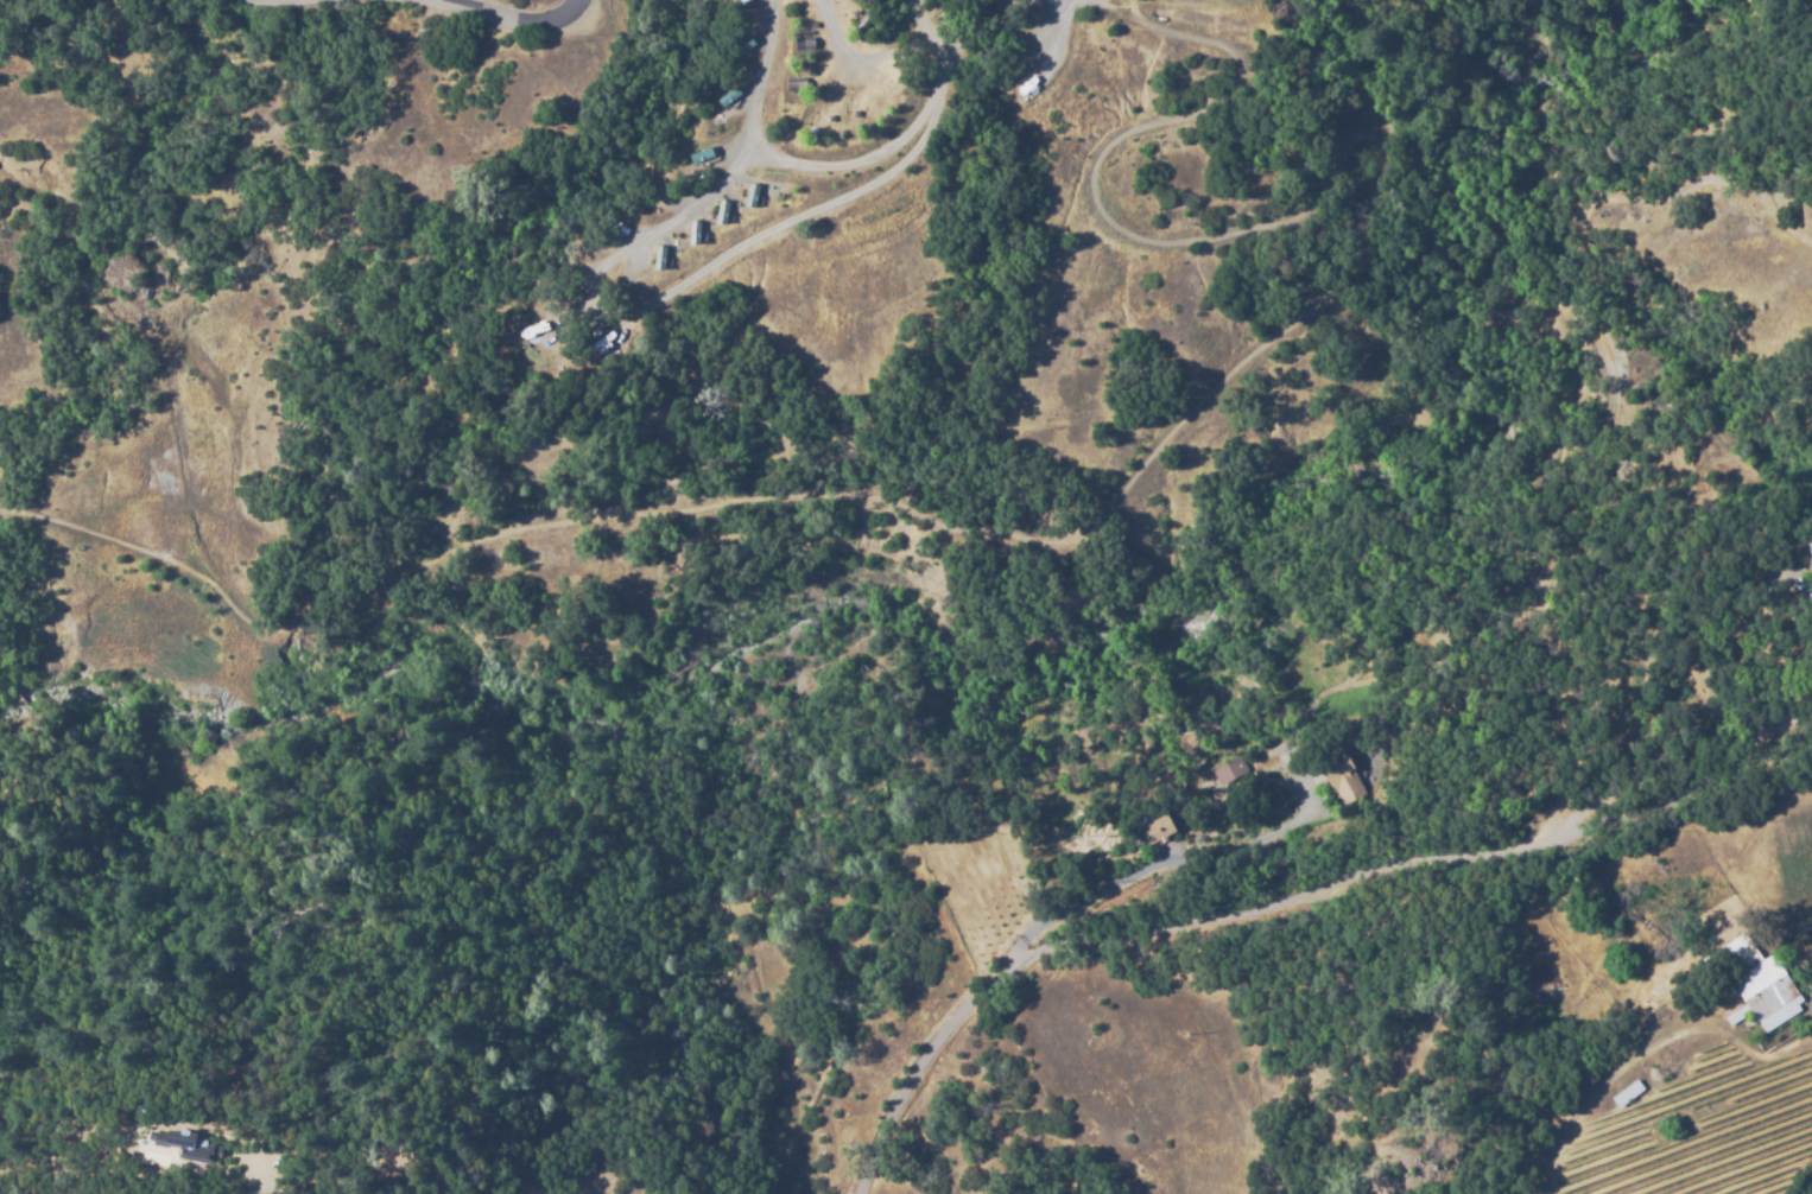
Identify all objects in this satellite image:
road: (499, 13)
building: (863, 20)
road: (980, 32)
building: (803, 43)
building: (742, 56)
building: (796, 84)
building: (723, 112)
building: (690, 167)
building: (750, 195)
building: (657, 199)
building: (722, 211)
building: (693, 233)
building: (660, 258)
building: (609, 345)
building: (1810, 546)
building: (1729, 649)
building: (1772, 650)
building: (1231, 773)
building: (1342, 776)
building: (1159, 828)
road: (1284, 898)
building: (1022, 909)
building: (1765, 985)
road: (1808, 992)
building: (1737, 1015)
building: (1628, 1092)
building: (178, 1144)
building: (232, 1144)
road: (260, 1180)
road: (526, 1183)

